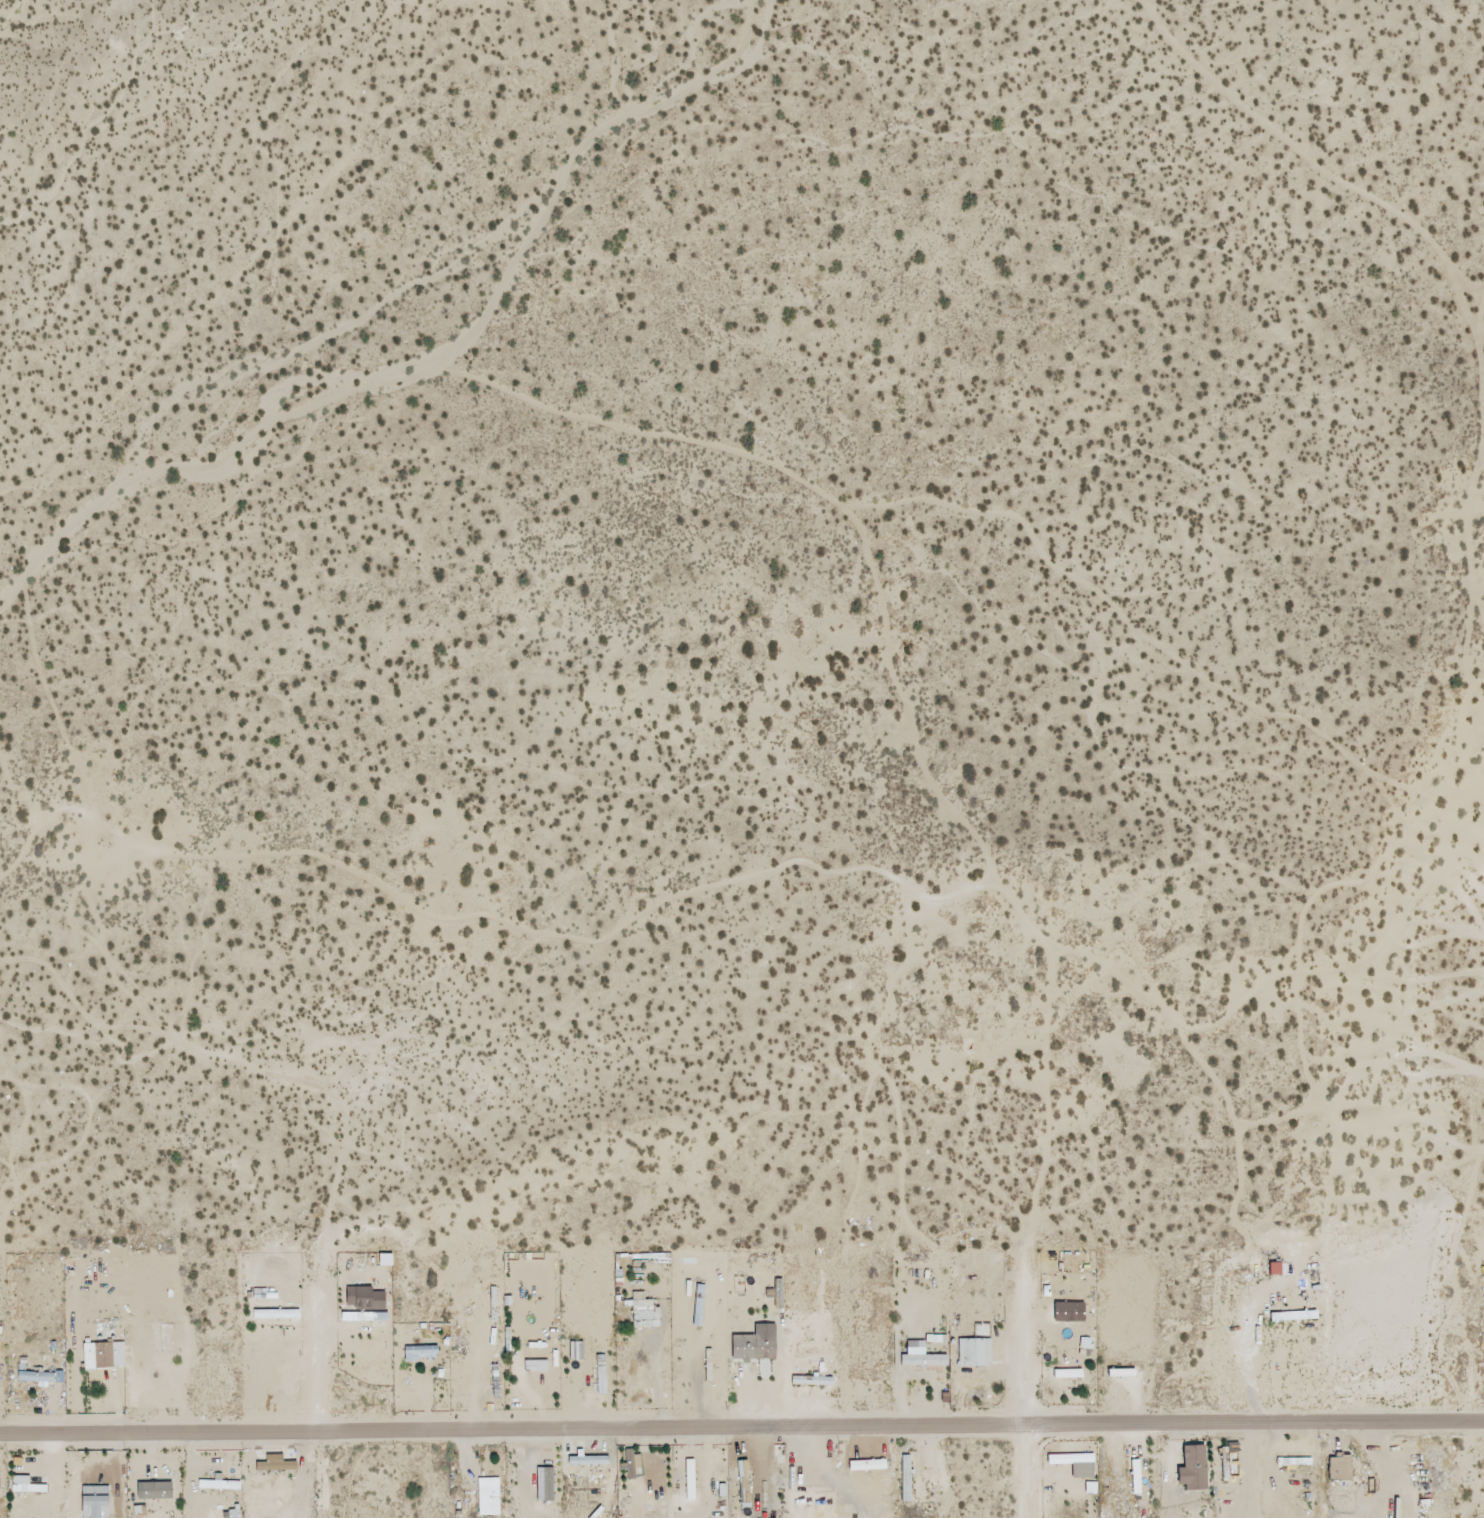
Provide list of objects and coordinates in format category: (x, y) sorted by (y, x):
road: (219, 173)
building: (384, 1260)
building: (364, 1299)
building: (644, 1312)
building: (754, 1345)
building: (576, 1351)
road: (1025, 1351)
building: (974, 1352)
building: (420, 1353)
building: (103, 1355)
building: (920, 1356)
building: (1070, 1373)
building: (1120, 1373)
building: (36, 1376)
road: (323, 1396)
road: (512, 1428)
road: (1254, 1433)
road: (1000, 1436)
building: (1072, 1459)
building: (630, 1463)
building: (1192, 1468)
road: (1025, 1477)
building: (689, 1480)
building: (23, 1485)
building: (547, 1485)
building: (1091, 1488)
building: (137, 1495)
building: (488, 1497)
building: (94, 1501)

